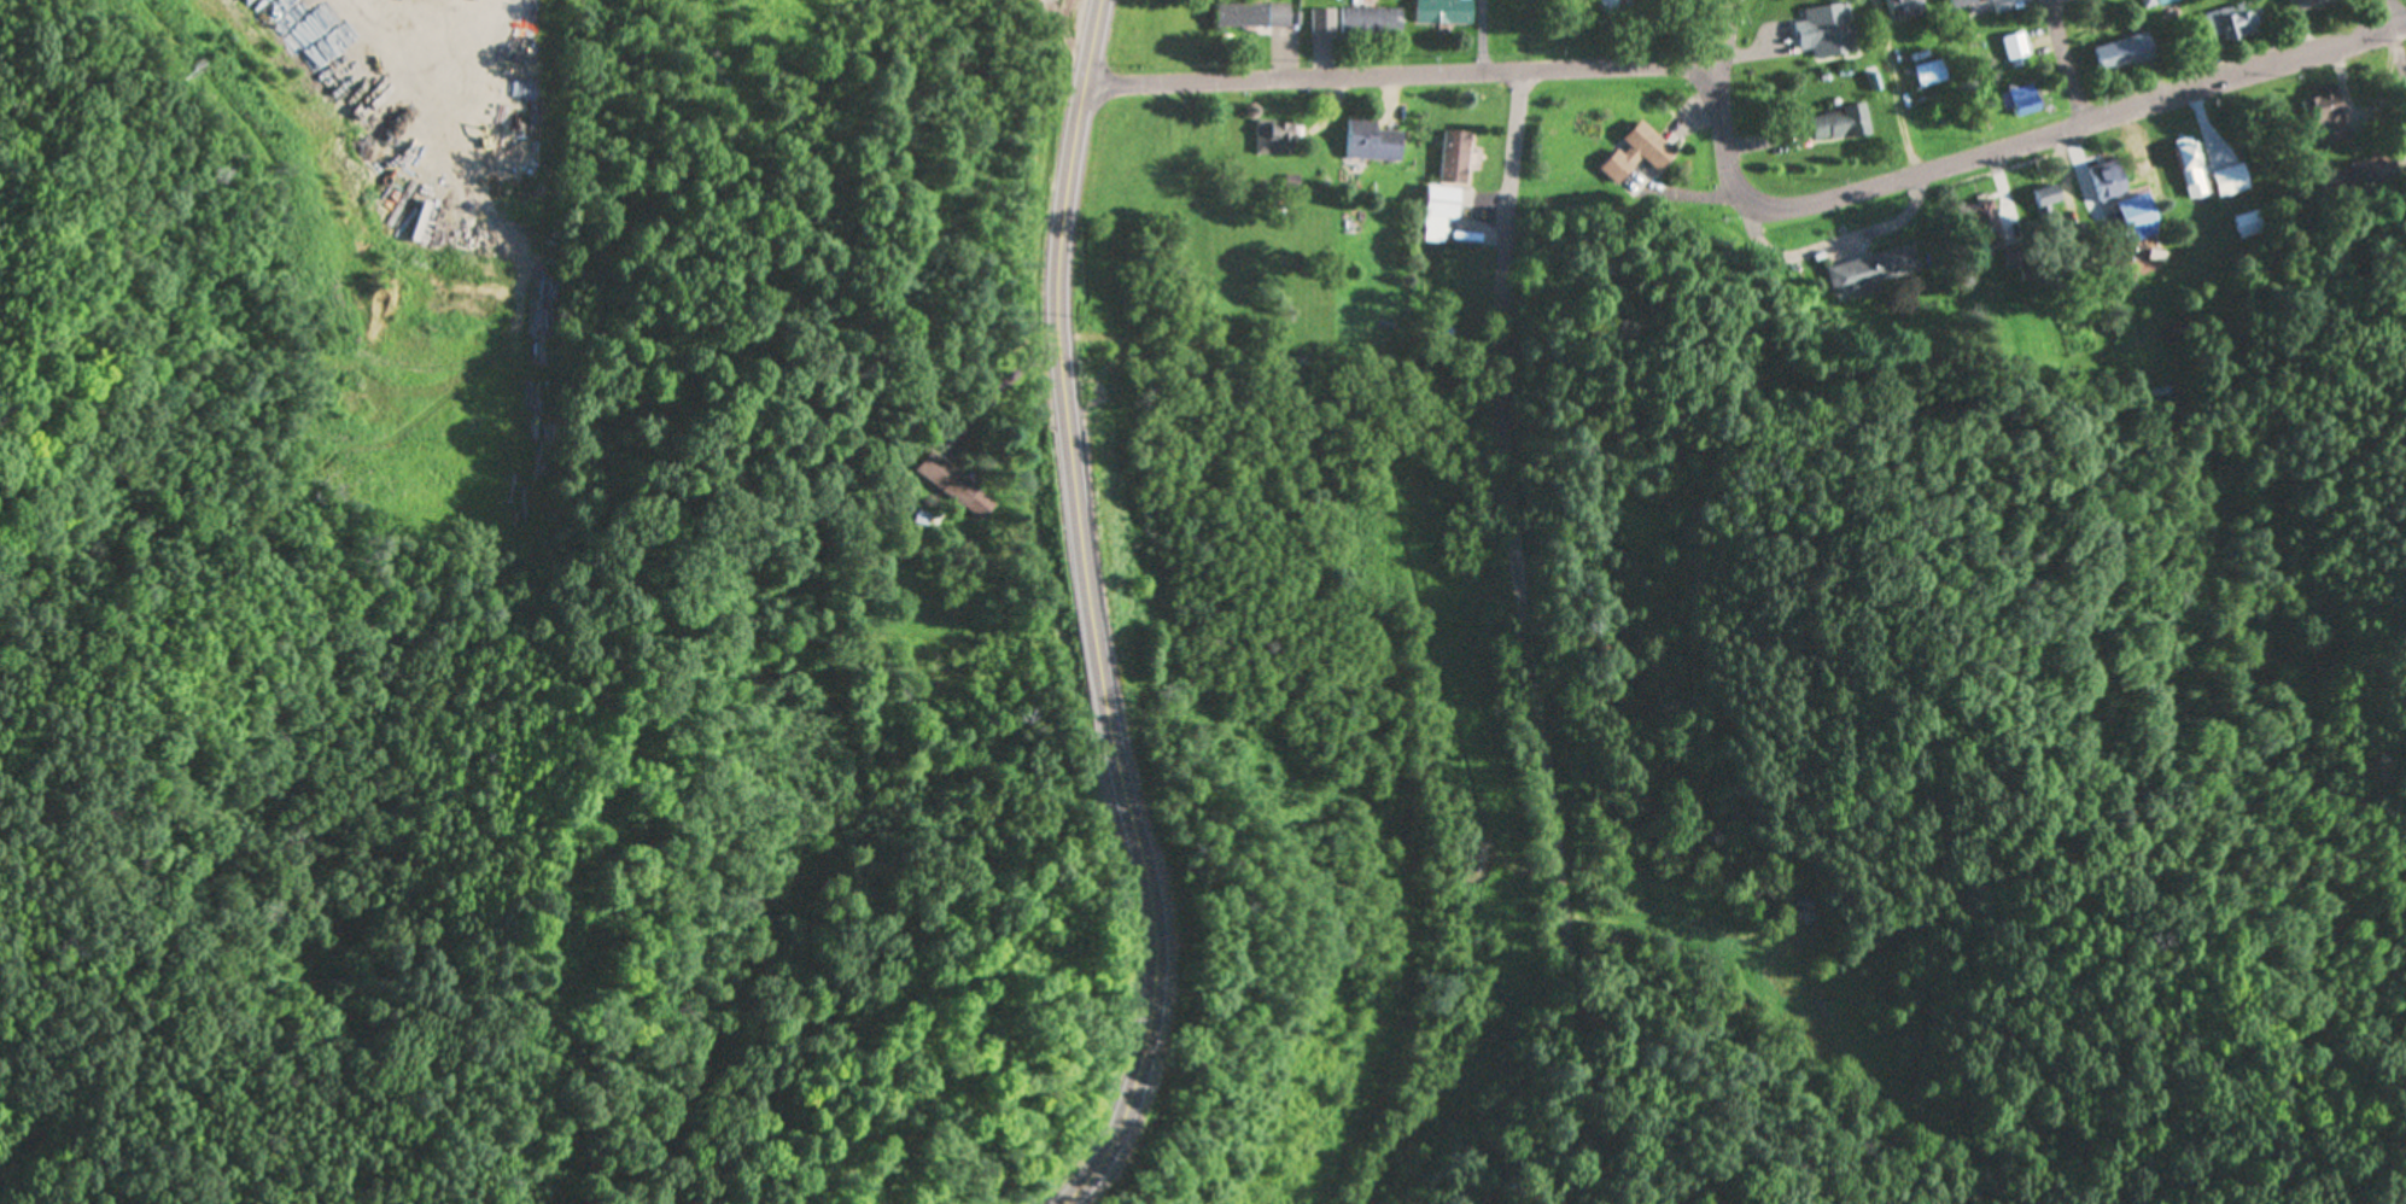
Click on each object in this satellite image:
park: (2405, 1)
building: (1964, 2)
building: (2159, 2)
building: (2308, 5)
building: (1903, 6)
building: (1444, 12)
building: (1257, 16)
building: (1324, 22)
building: (1372, 22)
building: (2233, 23)
road: (2396, 30)
building: (1828, 31)
road: (1727, 40)
building: (2015, 47)
building: (2124, 54)
road: (2071, 63)
building: (1931, 74)
road: (1400, 75)
road: (490, 77)
road: (1898, 88)
building: (2026, 100)
building: (2326, 115)
building: (1840, 125)
road: (2081, 127)
building: (1275, 139)
building: (1373, 144)
road: (1728, 144)
building: (1636, 153)
building: (1456, 158)
building: (2191, 169)
building: (2232, 181)
building: (2360, 181)
building: (2107, 182)
building: (2048, 203)
building: (1441, 211)
building: (2136, 216)
building: (1987, 226)
building: (1878, 270)
building: (958, 487)
road: (1093, 620)
road: (1509, 639)

